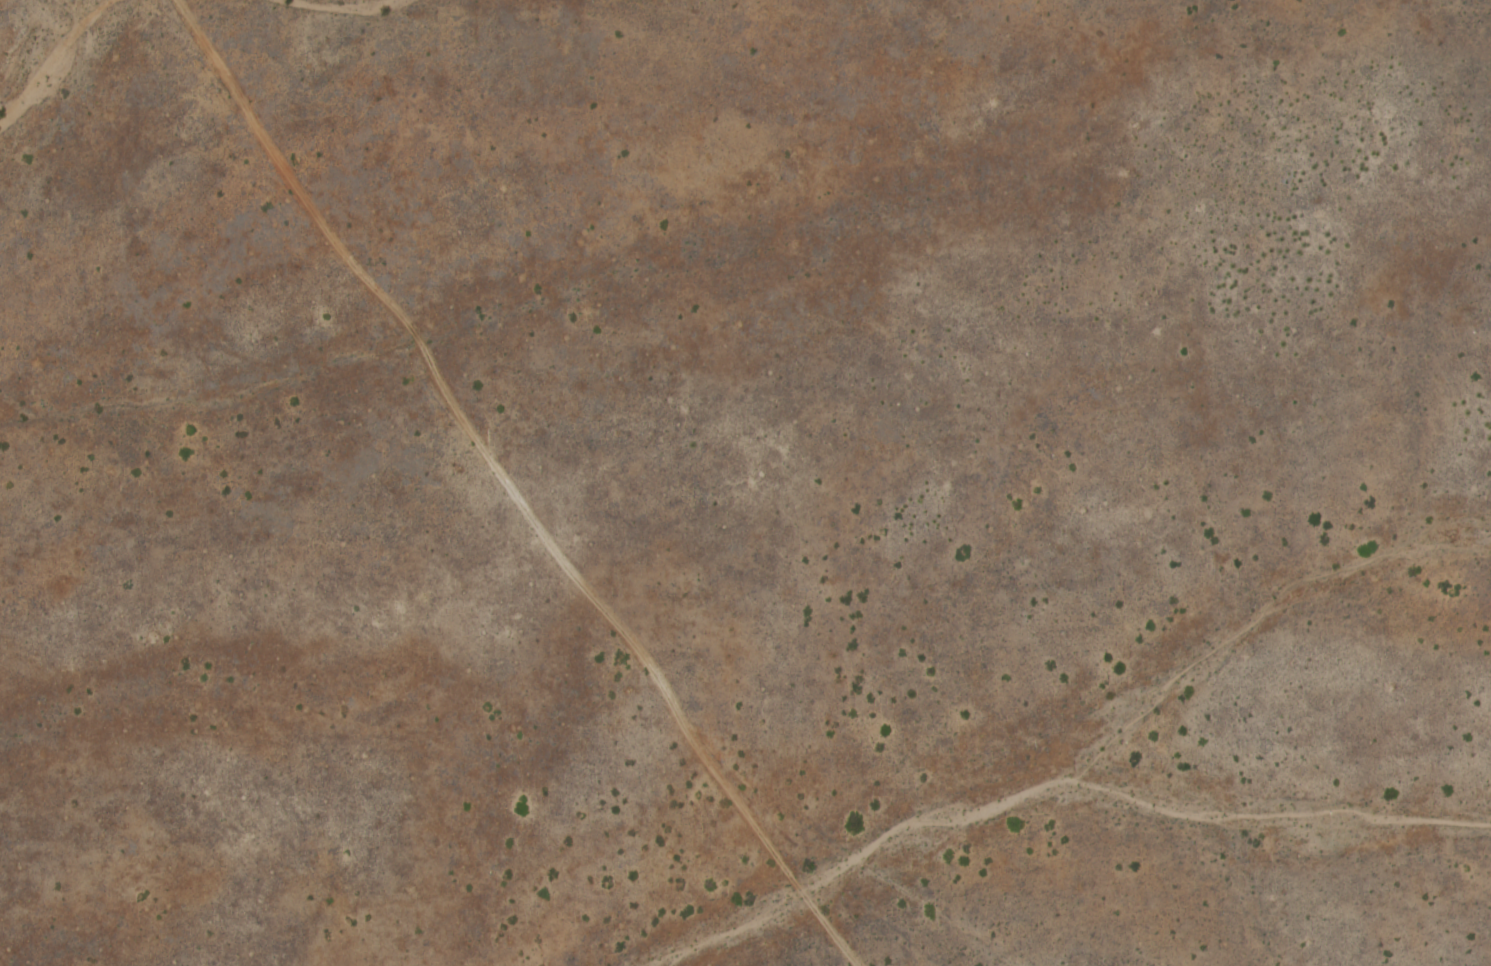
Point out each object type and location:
road: (561, 525)

